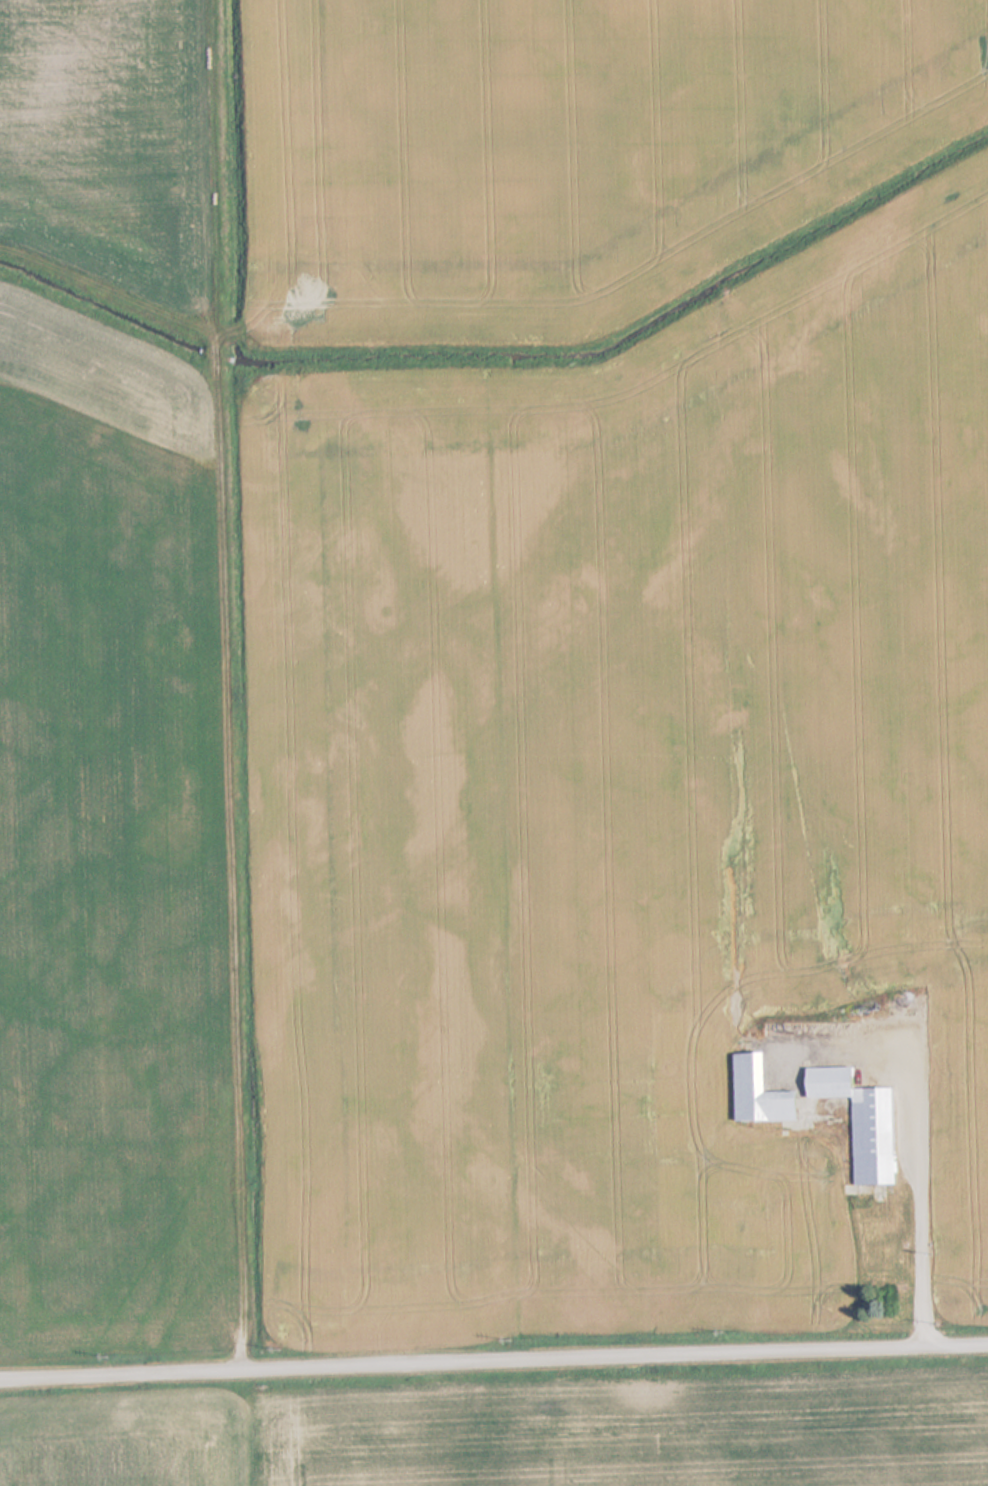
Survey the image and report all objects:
building: (765, 1093)
building: (868, 1123)
road: (493, 1361)

